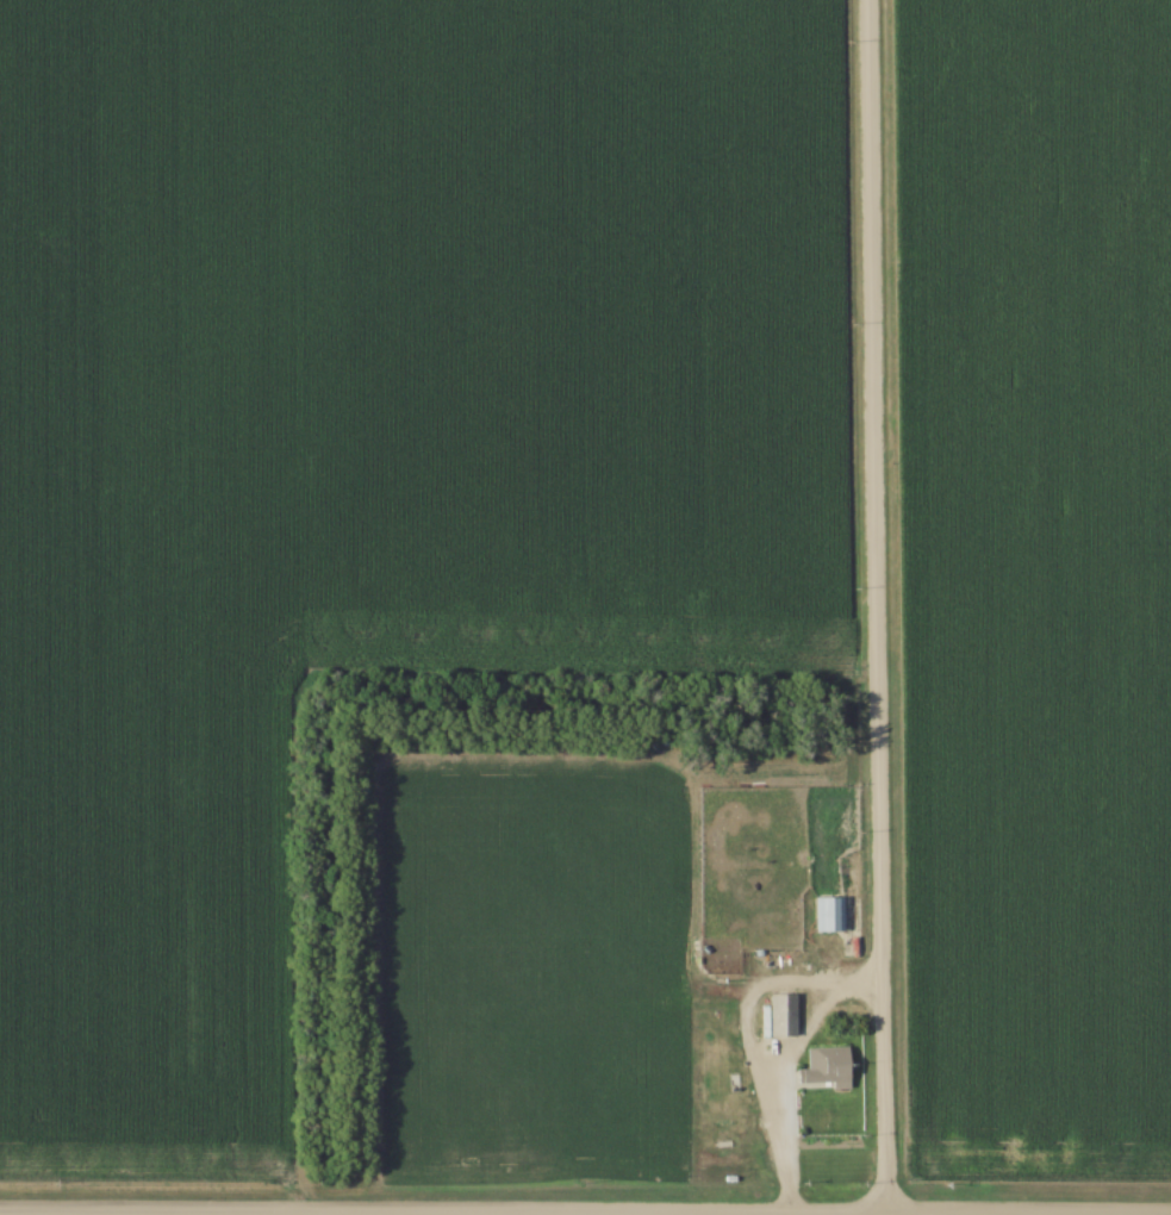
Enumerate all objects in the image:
road: (871, 607)
building: (829, 915)
building: (783, 1016)
building: (827, 1067)
road: (767, 1070)
road: (440, 1213)

